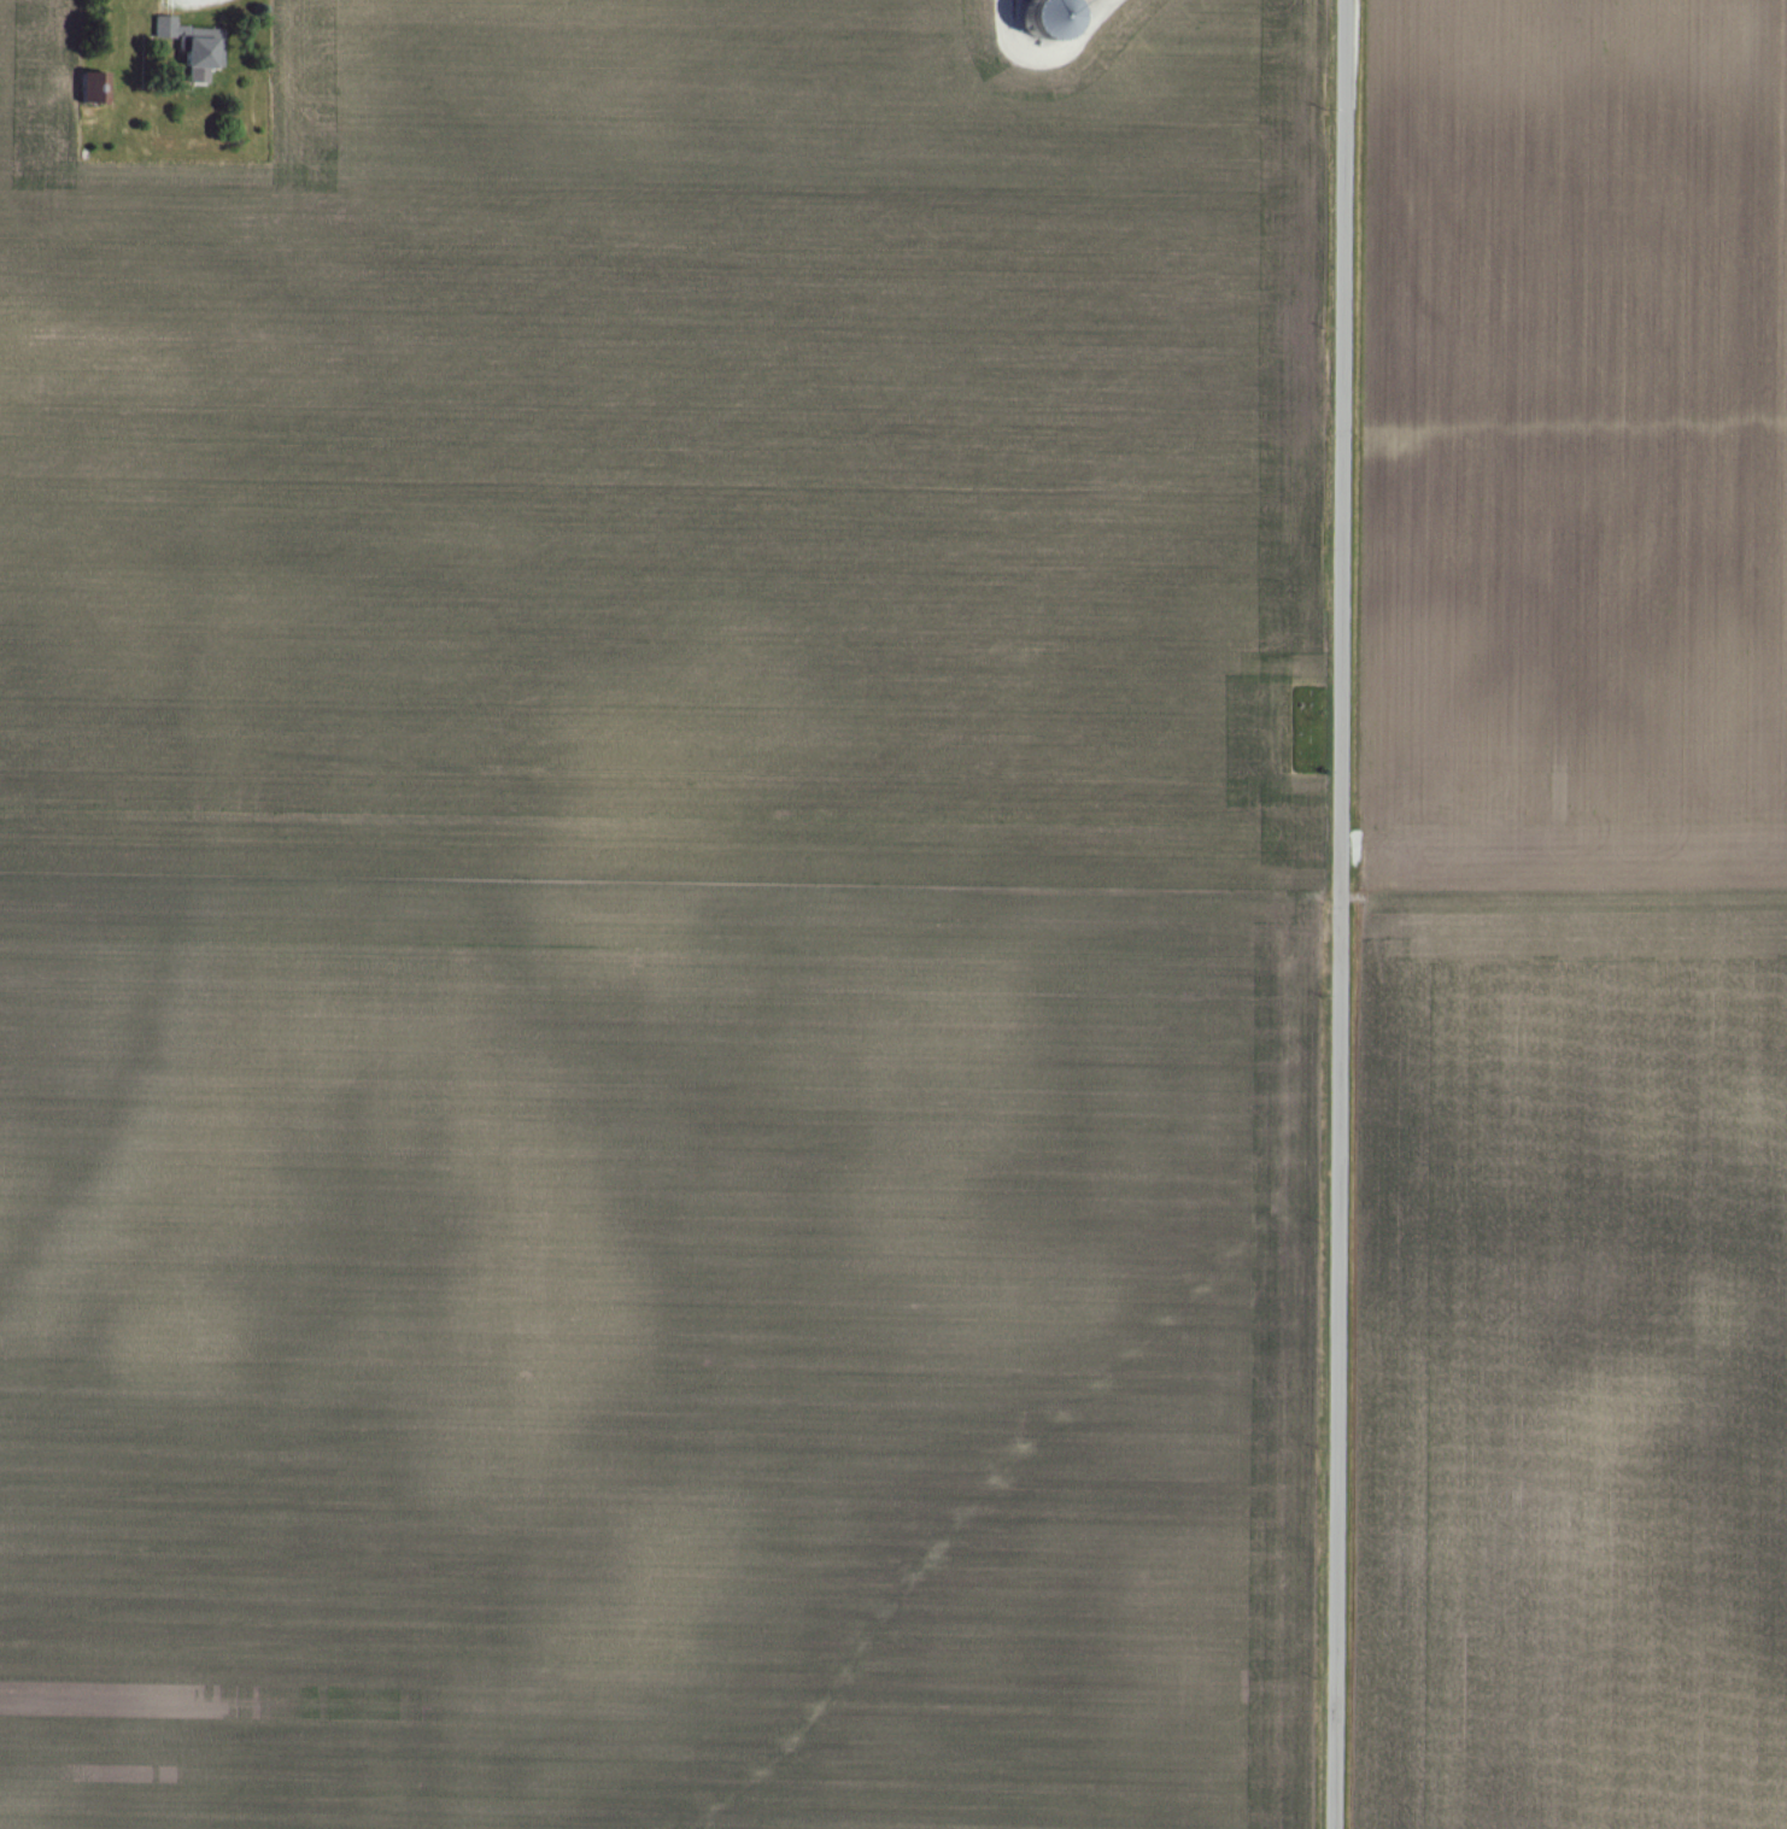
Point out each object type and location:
building: (94, 80)
road: (1332, 914)

